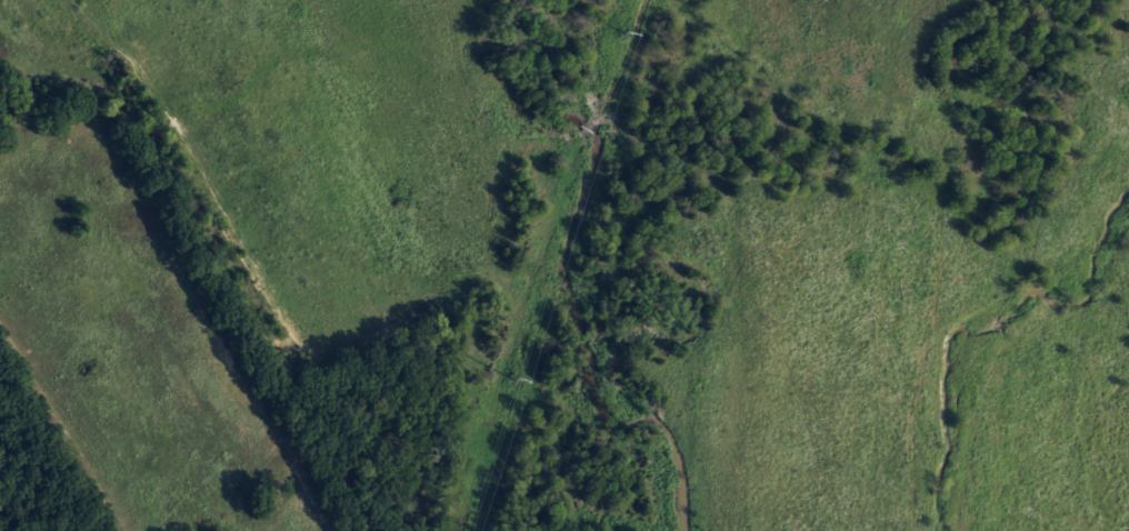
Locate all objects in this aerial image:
power tower: (625, 32)
power tower: (513, 380)

